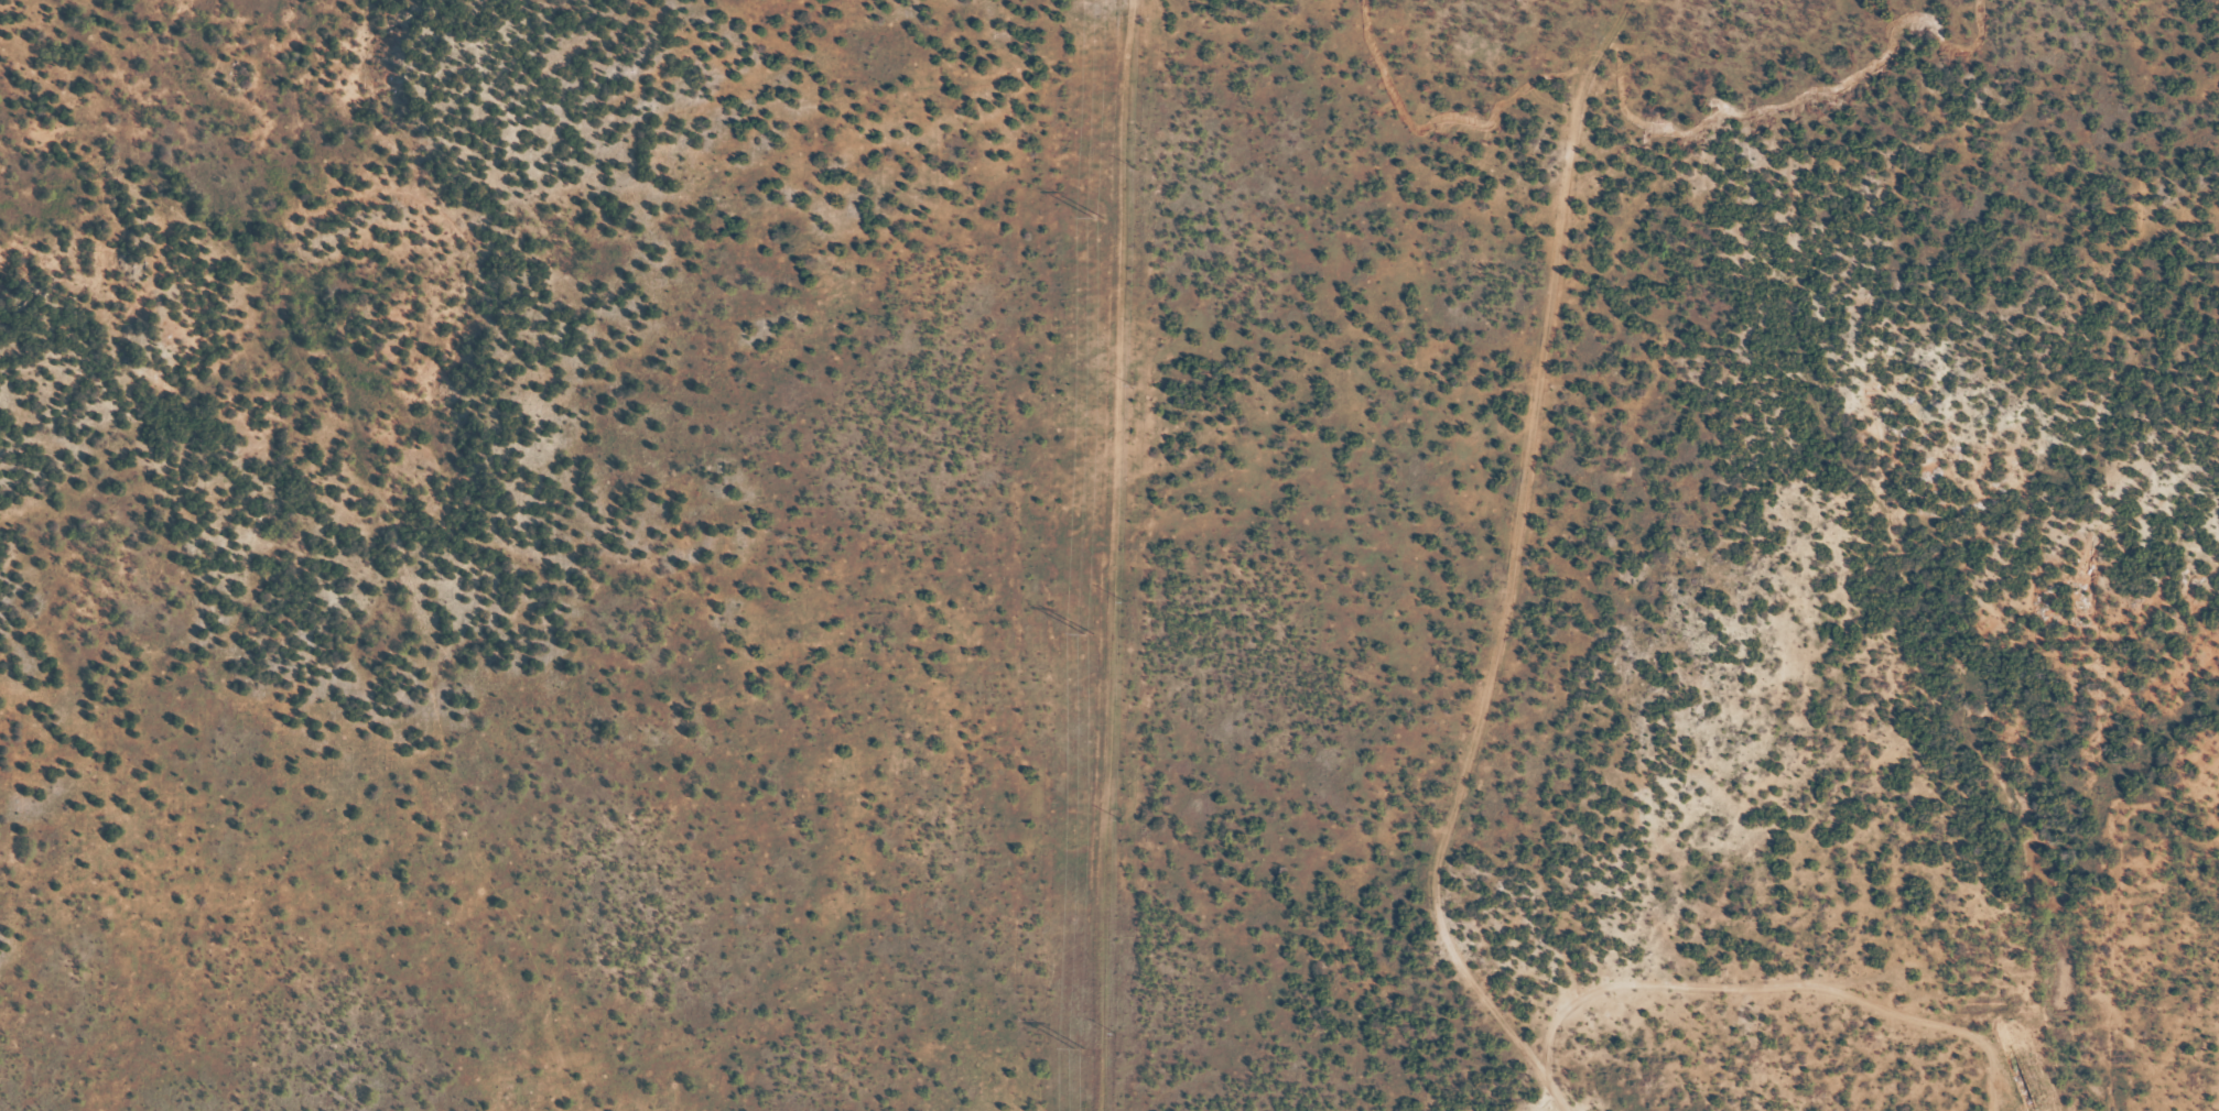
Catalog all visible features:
power tower: (1100, 217)
road: (1494, 562)
power tower: (1090, 632)
road: (1754, 974)
power tower: (1080, 1047)

